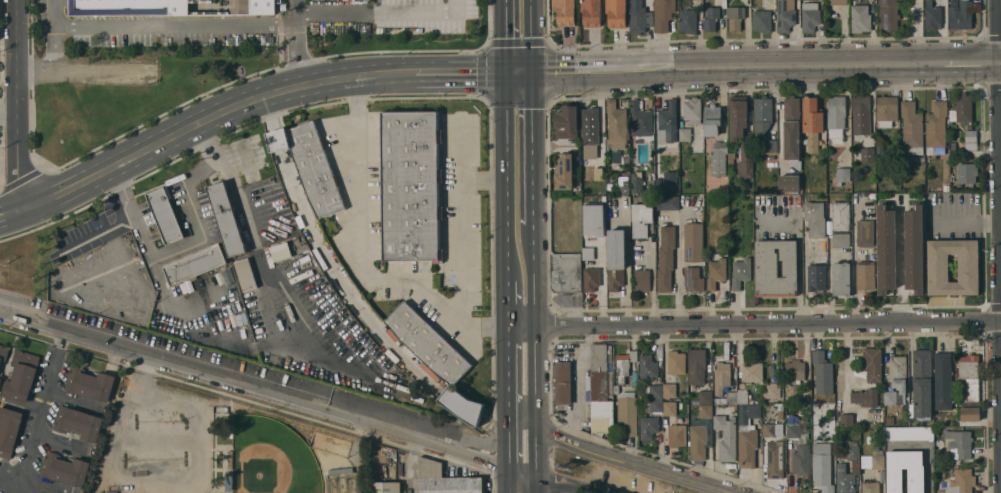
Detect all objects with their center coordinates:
building: (798, 0)
building: (837, 2)
building: (128, 7)
building: (253, 7)
building: (565, 12)
road: (384, 13)
building: (591, 13)
building: (616, 13)
road: (299, 14)
building: (664, 14)
building: (785, 15)
building: (888, 15)
building: (932, 15)
building: (960, 15)
building: (810, 16)
building: (639, 17)
building: (735, 17)
parking lot: (389, 18)
building: (711, 18)
building: (860, 18)
building: (688, 20)
building: (762, 21)
road: (163, 26)
road: (530, 35)
road: (504, 36)
road: (54, 49)
road: (303, 56)
road: (999, 61)
road: (819, 64)
road: (586, 69)
road: (86, 71)
road: (517, 71)
traffic signals: (531, 71)
road: (460, 72)
traffic signals: (504, 72)
road: (17, 105)
building: (962, 108)
building: (692, 109)
building: (886, 110)
building: (836, 112)
road: (8, 114)
building: (762, 114)
building: (861, 114)
building: (737, 116)
road: (209, 117)
building: (712, 119)
building: (567, 122)
building: (812, 122)
building: (641, 123)
building: (667, 123)
building: (616, 126)
building: (791, 127)
building: (912, 128)
building: (936, 128)
building: (589, 133)
building: (685, 134)
building: (970, 140)
building: (769, 145)
road: (532, 147)
building: (953, 147)
building: (880, 148)
road: (461, 149)
building: (867, 154)
building: (719, 158)
building: (731, 158)
building: (830, 159)
building: (745, 161)
building: (315, 169)
building: (564, 172)
building: (966, 173)
building: (842, 174)
road: (504, 177)
building: (636, 183)
building: (651, 183)
building: (789, 183)
building: (411, 186)
building: (945, 187)
building: (624, 188)
building: (674, 188)
building: (872, 196)
building: (668, 203)
road: (9, 208)
building: (165, 214)
building: (841, 215)
building: (226, 219)
building: (641, 219)
building: (815, 219)
road: (10, 221)
road: (966, 225)
road: (461, 227)
building: (593, 230)
building: (865, 233)
road: (97, 237)
building: (840, 240)
building: (693, 242)
road: (994, 246)
building: (914, 248)
building: (887, 249)
road: (254, 250)
road: (181, 251)
building: (280, 251)
road: (362, 252)
road: (800, 254)
building: (616, 258)
building: (666, 258)
building: (824, 258)
building: (195, 264)
building: (937, 267)
building: (776, 268)
building: (716, 269)
road: (679, 271)
building: (740, 271)
building: (566, 272)
building: (246, 274)
road: (533, 275)
building: (865, 275)
building: (816, 277)
building: (591, 278)
building: (693, 279)
building: (841, 279)
building: (642, 280)
road: (506, 304)
road: (519, 326)
road: (766, 327)
building: (428, 343)
building: (3, 352)
building: (676, 362)
building: (872, 363)
road: (161, 364)
building: (624, 364)
road: (846, 365)
building: (648, 366)
road: (506, 368)
building: (698, 368)
building: (752, 371)
building: (795, 371)
building: (822, 372)
building: (898, 372)
road: (533, 375)
building: (22, 376)
building: (721, 376)
building: (0, 378)
building: (943, 381)
building: (563, 382)
building: (90, 383)
building: (922, 383)
road: (576, 384)
building: (970, 386)
building: (601, 389)
building: (670, 390)
building: (772, 390)
building: (803, 396)
building: (703, 397)
building: (733, 397)
building: (742, 397)
building: (865, 397)
building: (656, 398)
building: (890, 398)
building: (718, 400)
building: (724, 400)
building: (461, 404)
road: (20, 406)
building: (670, 408)
building: (706, 411)
road: (40, 414)
building: (628, 414)
building: (781, 414)
road: (520, 417)
building: (846, 420)
building: (890, 420)
building: (78, 423)
building: (648, 427)
building: (769, 429)
building: (9, 430)
building: (909, 433)
building: (677, 435)
building: (747, 435)
building: (726, 437)
road: (507, 439)
building: (698, 442)
park: (218, 444)
building: (959, 444)
building: (800, 447)
road: (535, 450)
road: (458, 452)
building: (848, 453)
building: (775, 459)
building: (873, 460)
road: (631, 463)
road: (409, 465)
building: (822, 466)
building: (65, 469)
road: (159, 475)
building: (445, 479)
road: (508, 480)
building: (847, 480)
building: (916, 480)
building: (228, 481)
building: (961, 481)
road: (536, 484)
building: (386, 487)
building: (871, 487)
road: (580, 491)

